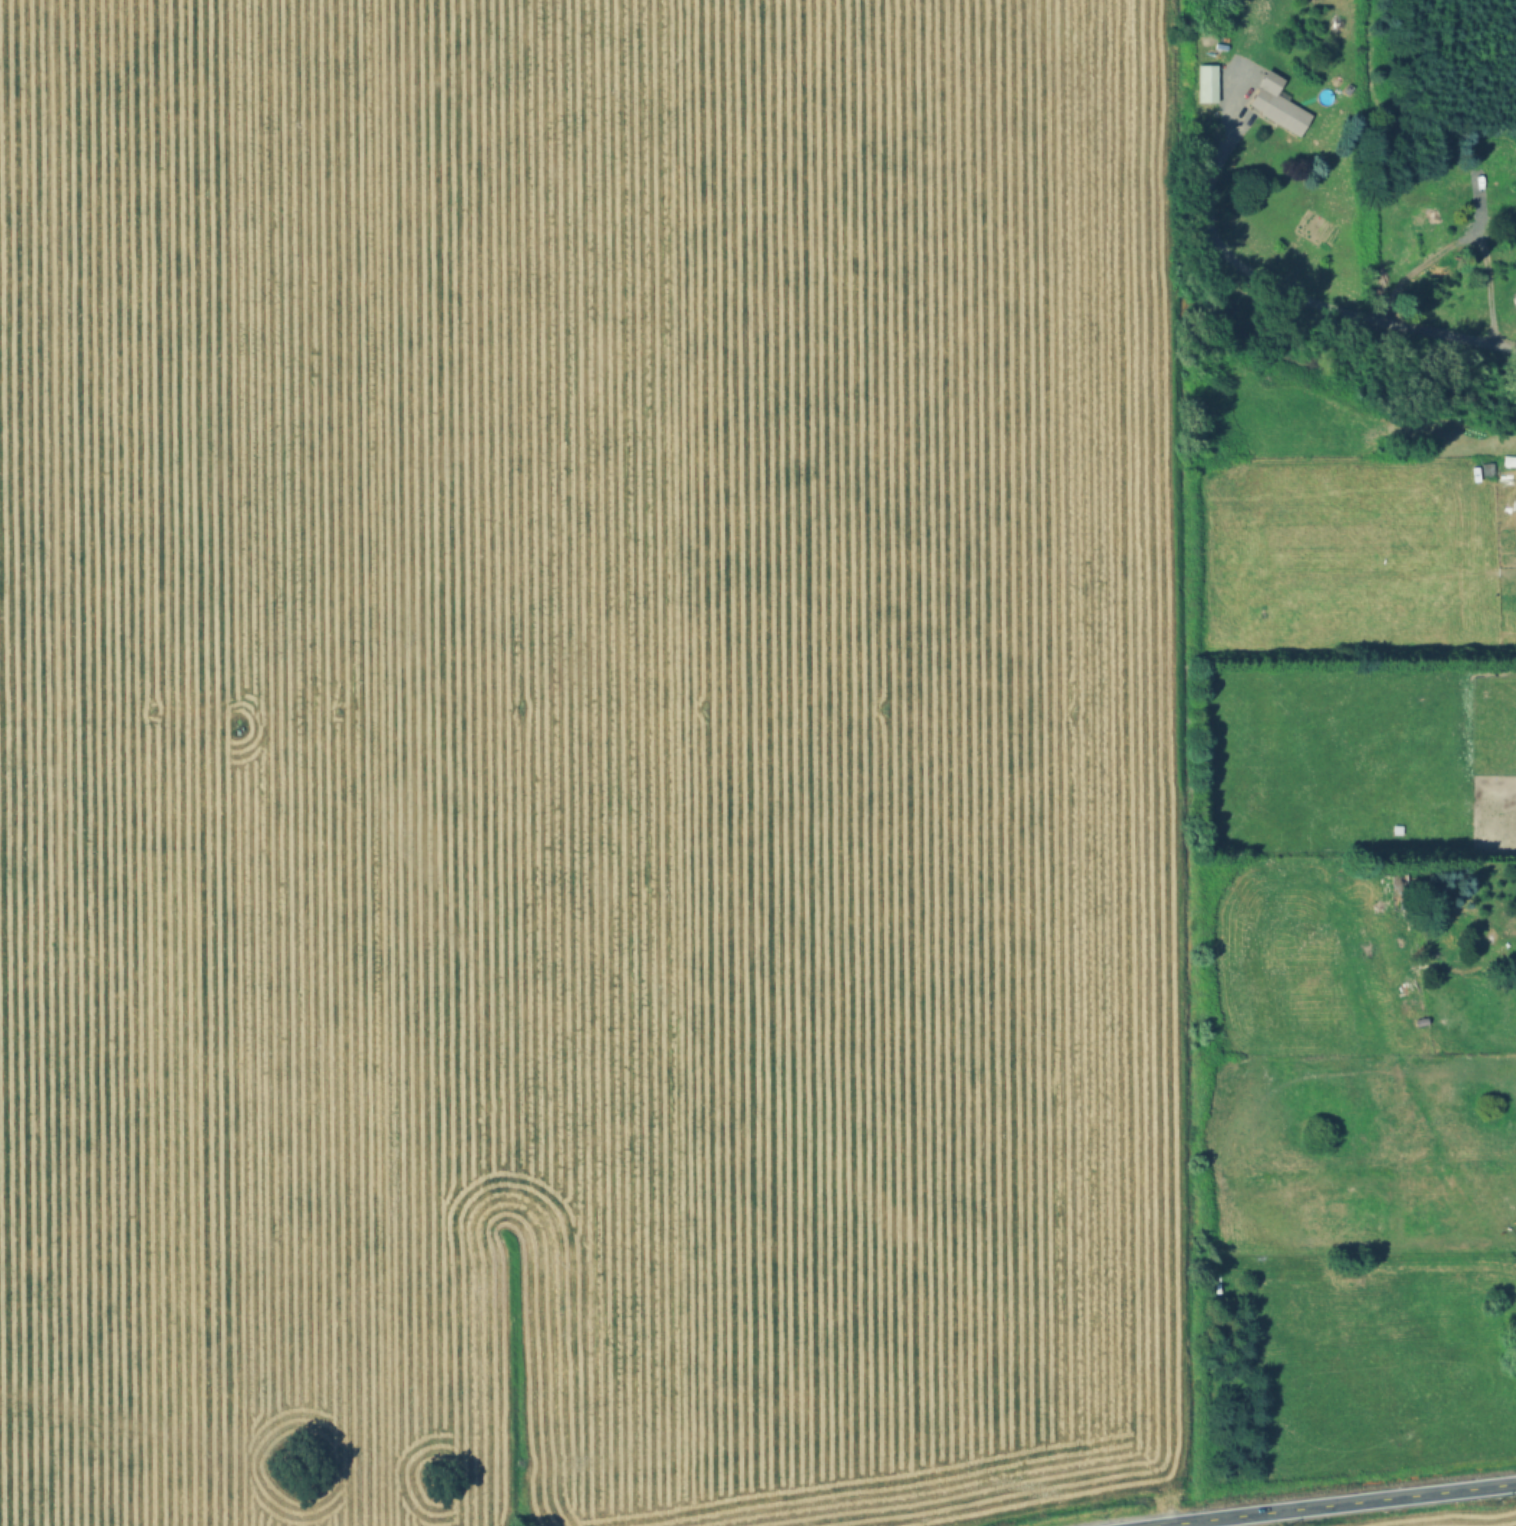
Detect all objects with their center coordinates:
building: (1204, 83)
building: (1274, 105)
building: (1479, 185)
road: (1314, 303)
crop: (589, 763)
road: (1343, 1504)
crop: (1458, 1518)

